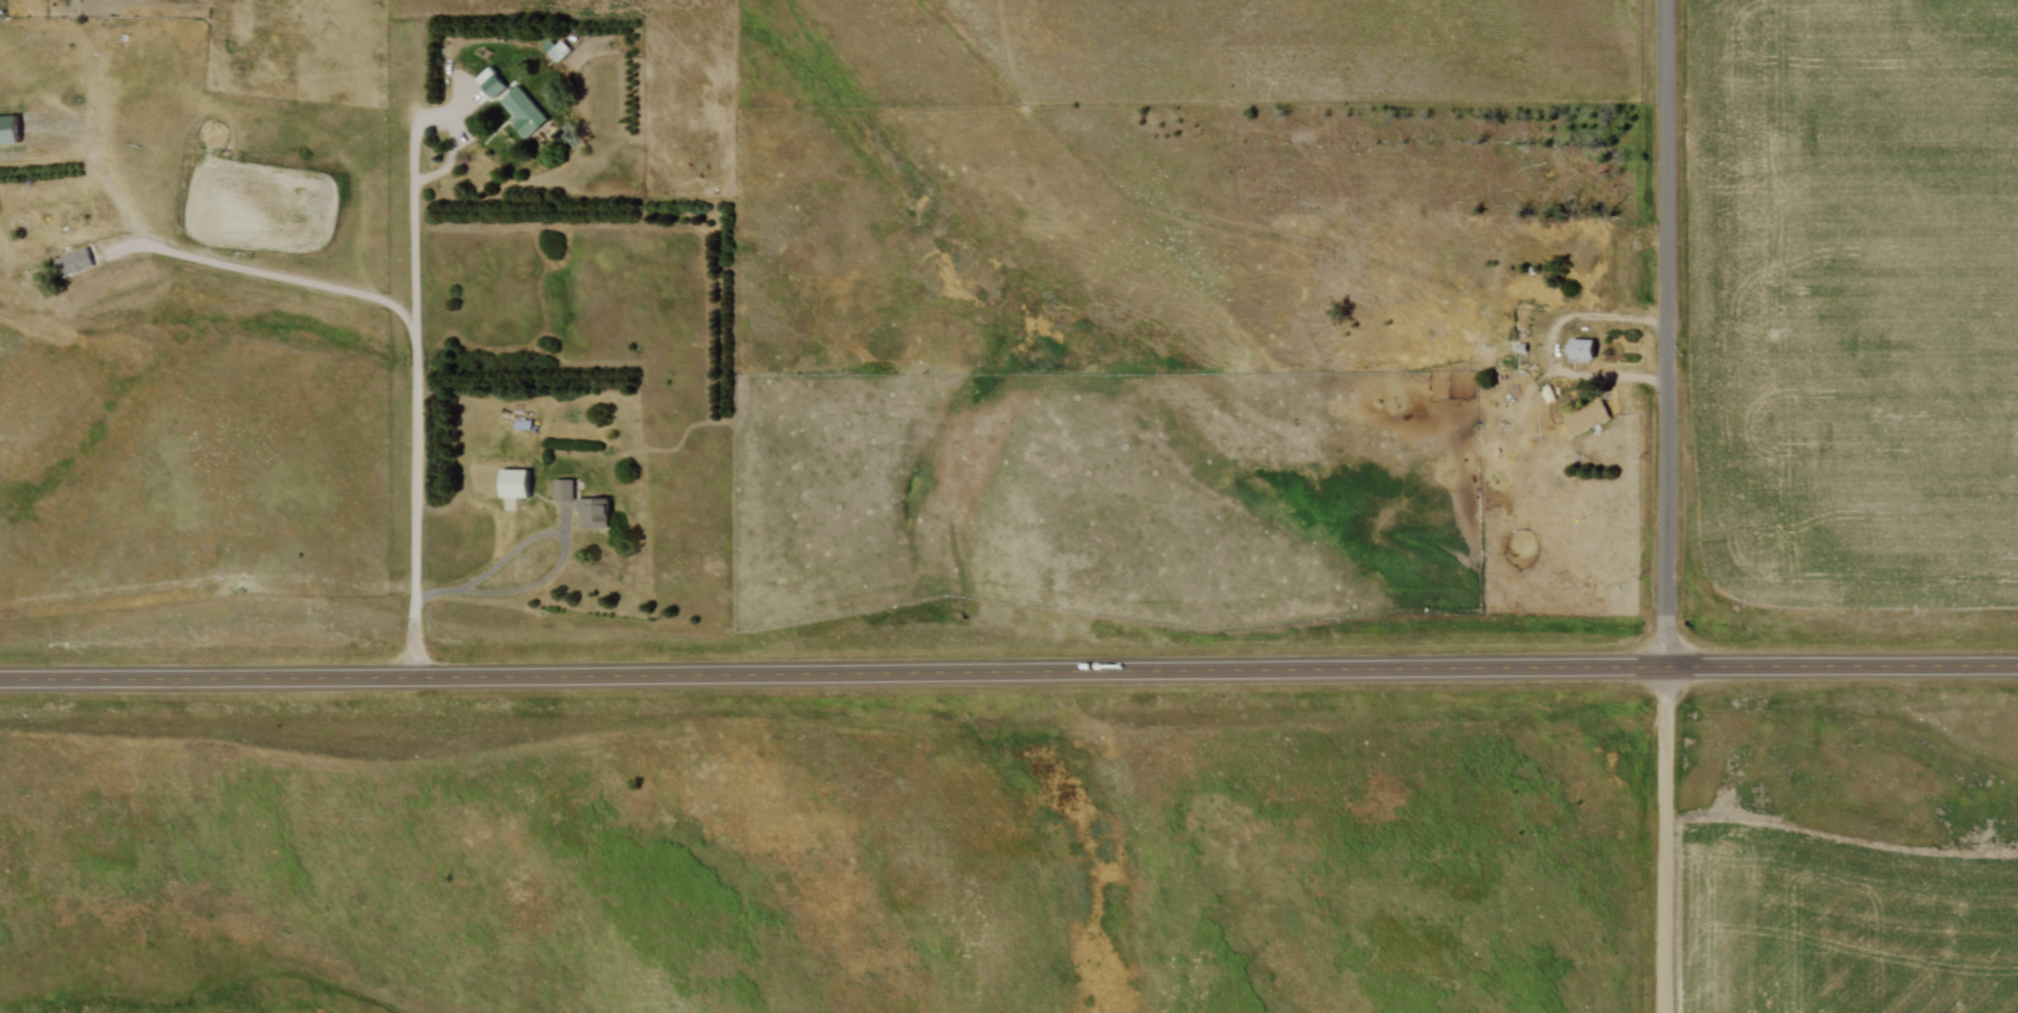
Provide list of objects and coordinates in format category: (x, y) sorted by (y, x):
building: (553, 51)
building: (490, 83)
building: (524, 114)
road: (415, 208)
road: (59, 232)
building: (73, 262)
road: (1667, 330)
road: (1552, 343)
building: (1581, 349)
road: (417, 362)
building: (1587, 418)
building: (513, 487)
building: (564, 489)
building: (593, 512)
road: (558, 538)
road: (442, 590)
road: (1009, 668)
road: (1666, 836)

